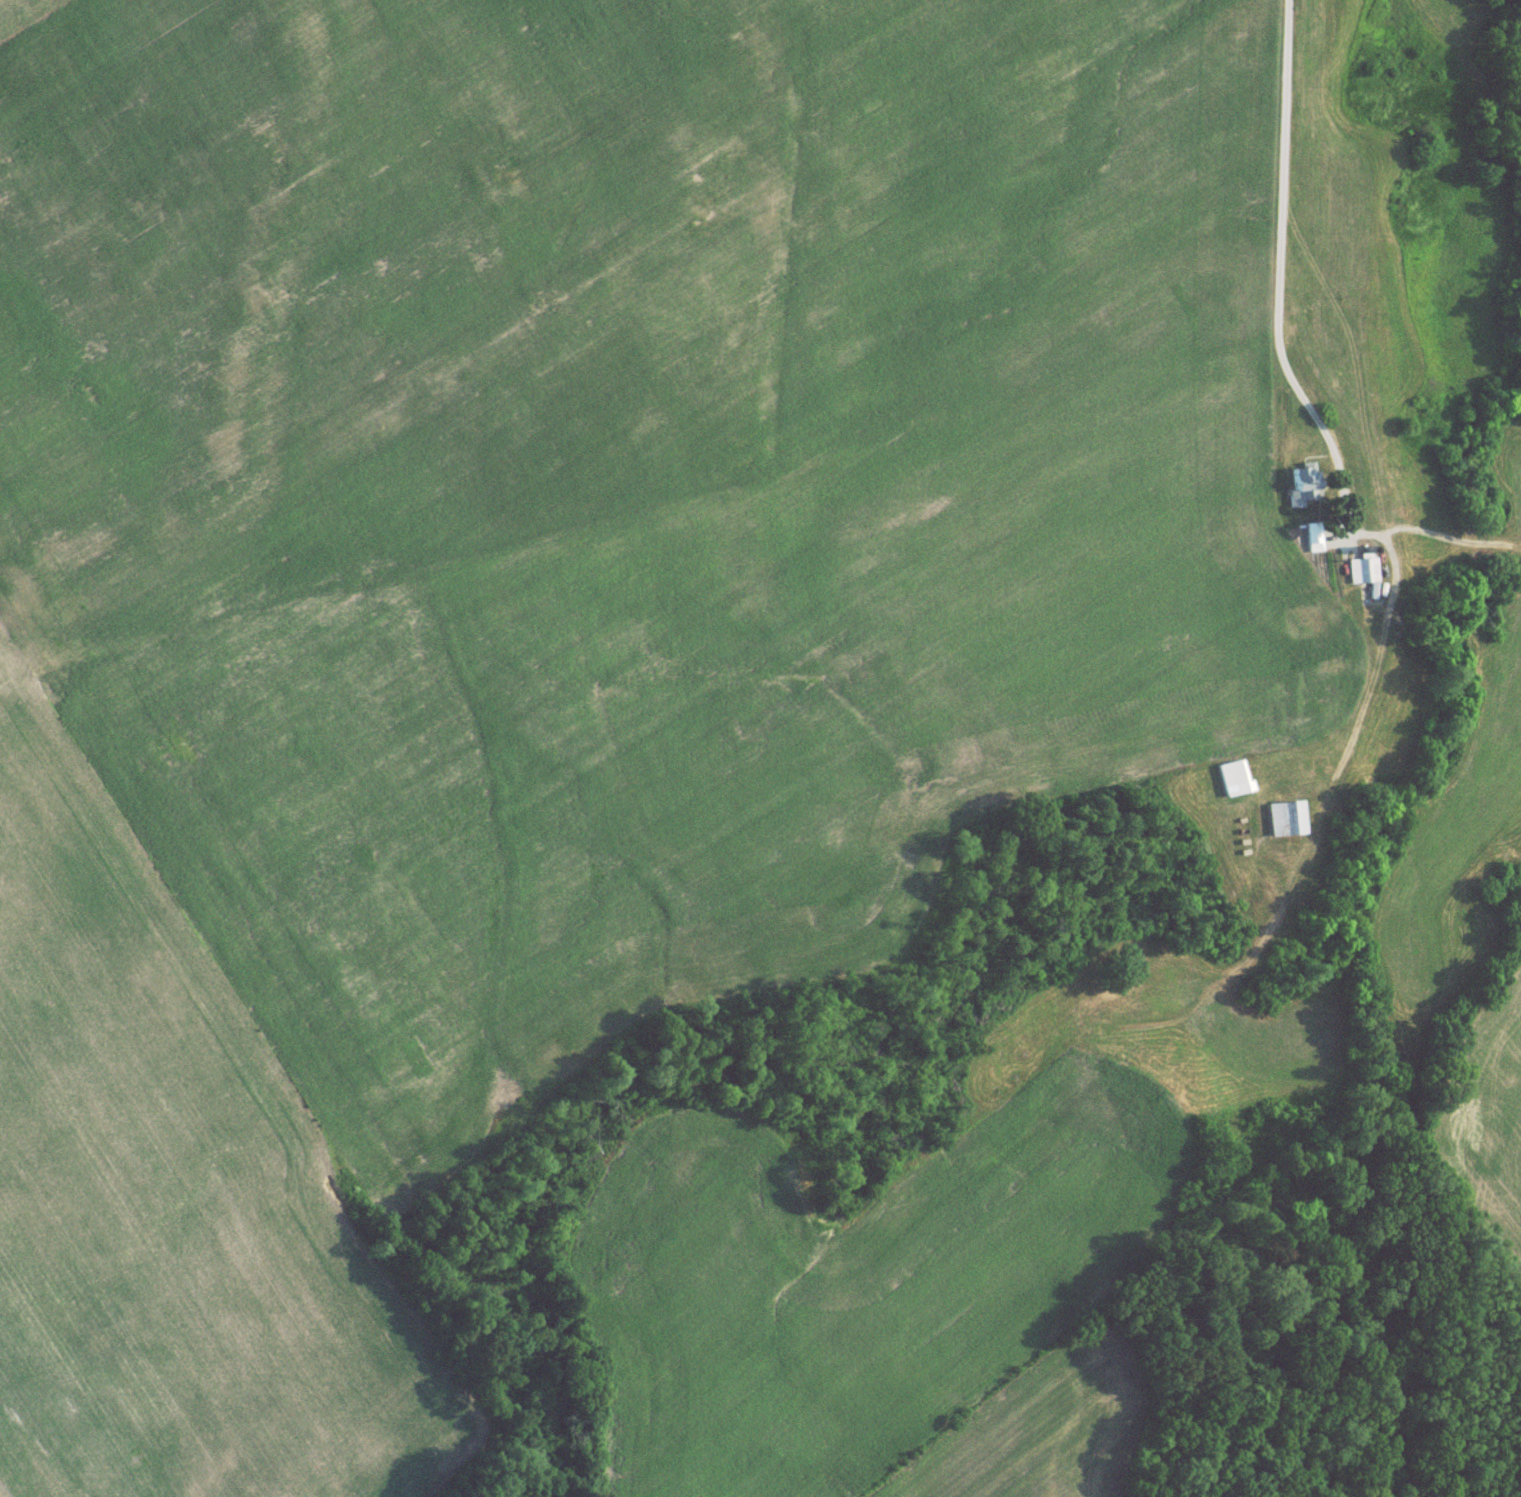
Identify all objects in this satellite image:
road: (1277, 280)
building: (1295, 493)
building: (1361, 576)
crop: (555, 602)
building: (1302, 626)
building: (1335, 671)
building: (1230, 784)
building: (1284, 824)
crop: (938, 1253)

